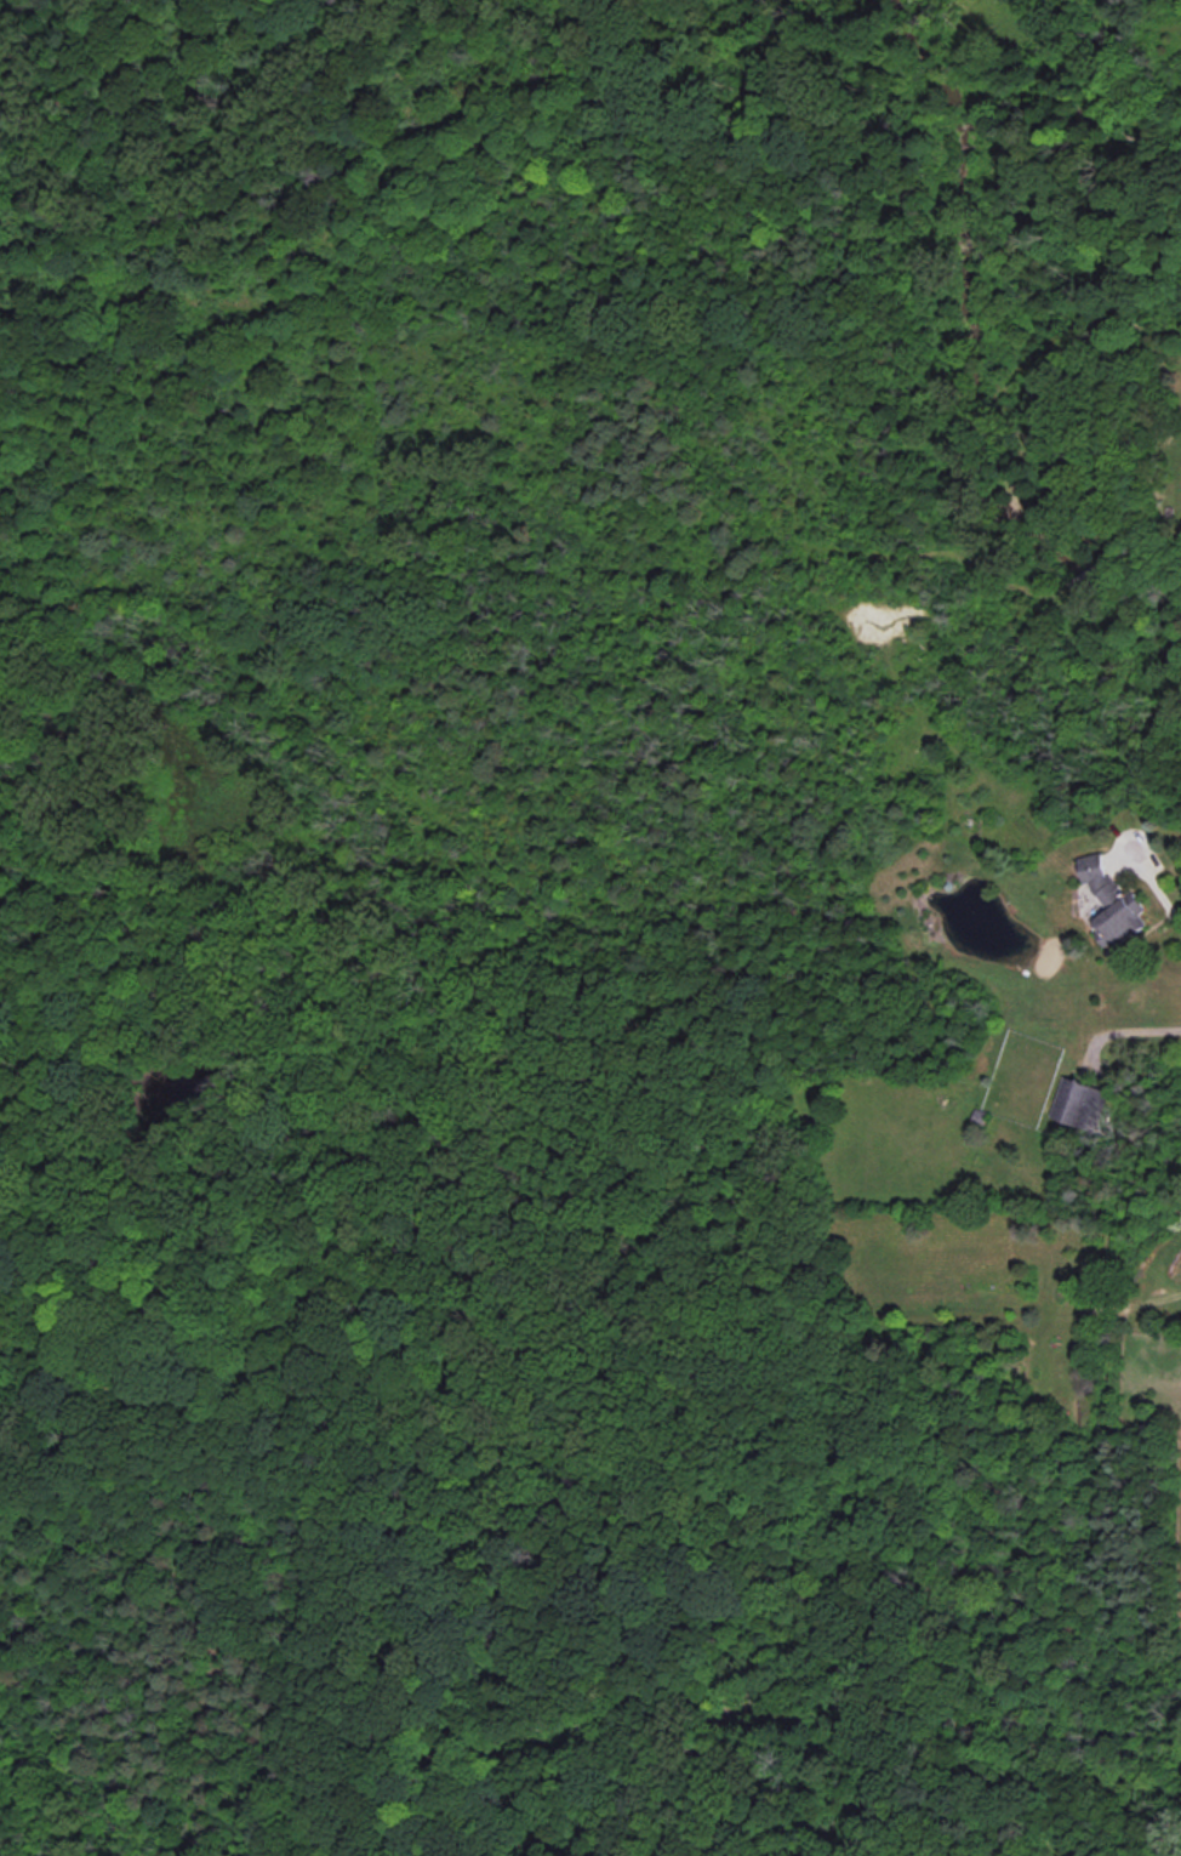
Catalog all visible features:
road: (1154, 888)
building: (1112, 903)
road: (1128, 1031)
building: (1078, 1103)

